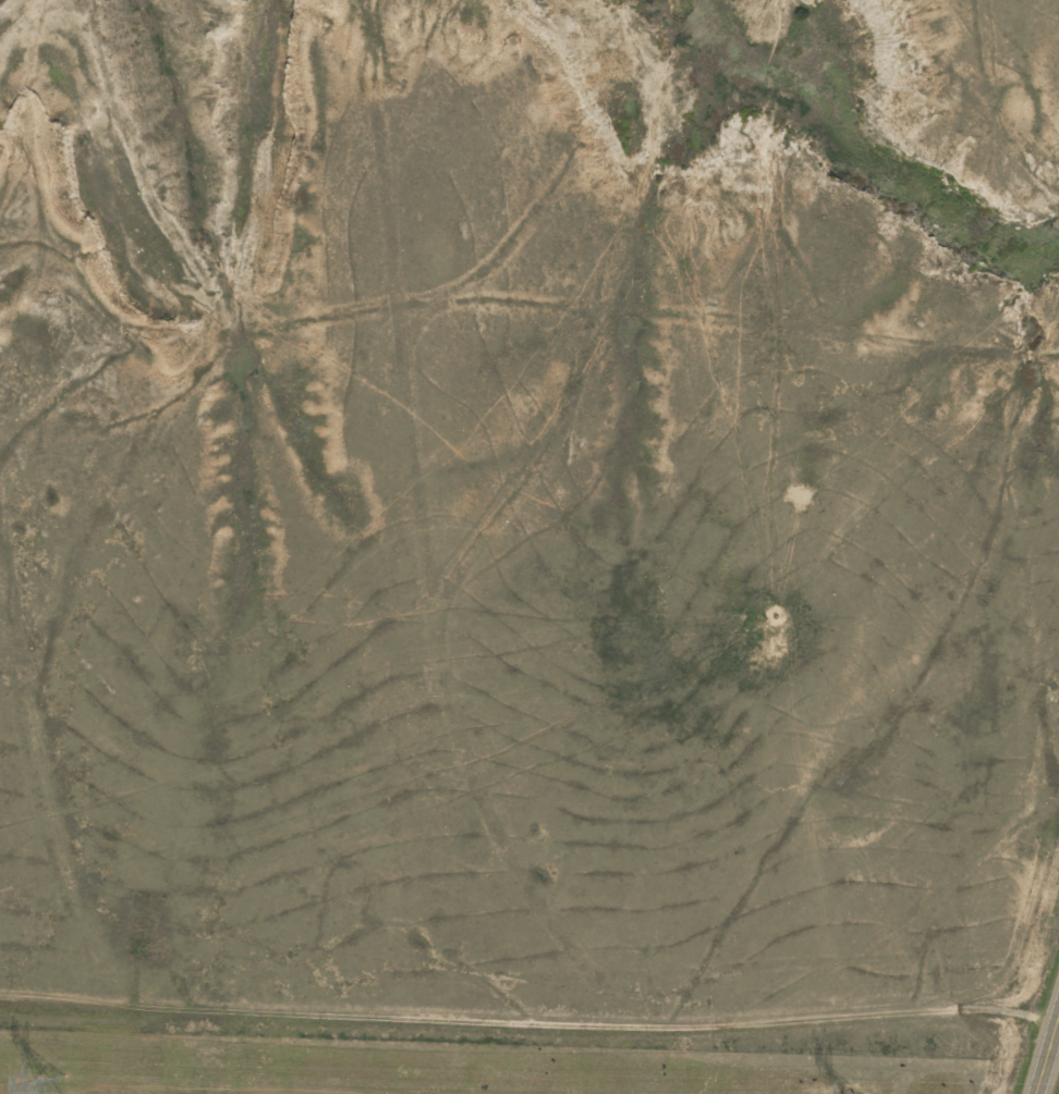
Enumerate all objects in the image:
road: (421, 652)
road: (521, 1021)
road: (1045, 1046)
power tower: (49, 1086)

